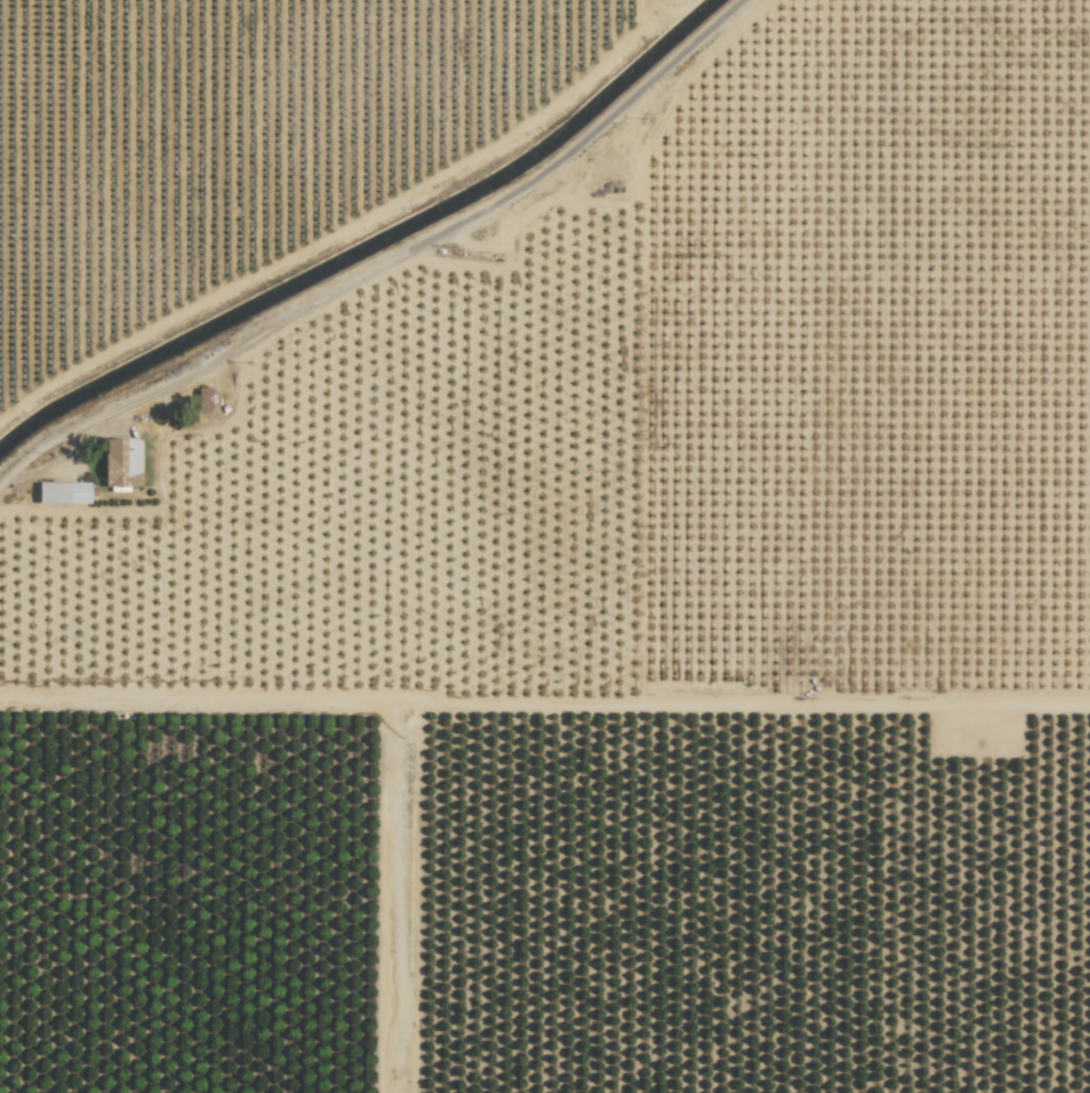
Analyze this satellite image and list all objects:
road: (387, 267)
building: (122, 462)
building: (64, 493)
road: (544, 695)
road: (403, 893)

